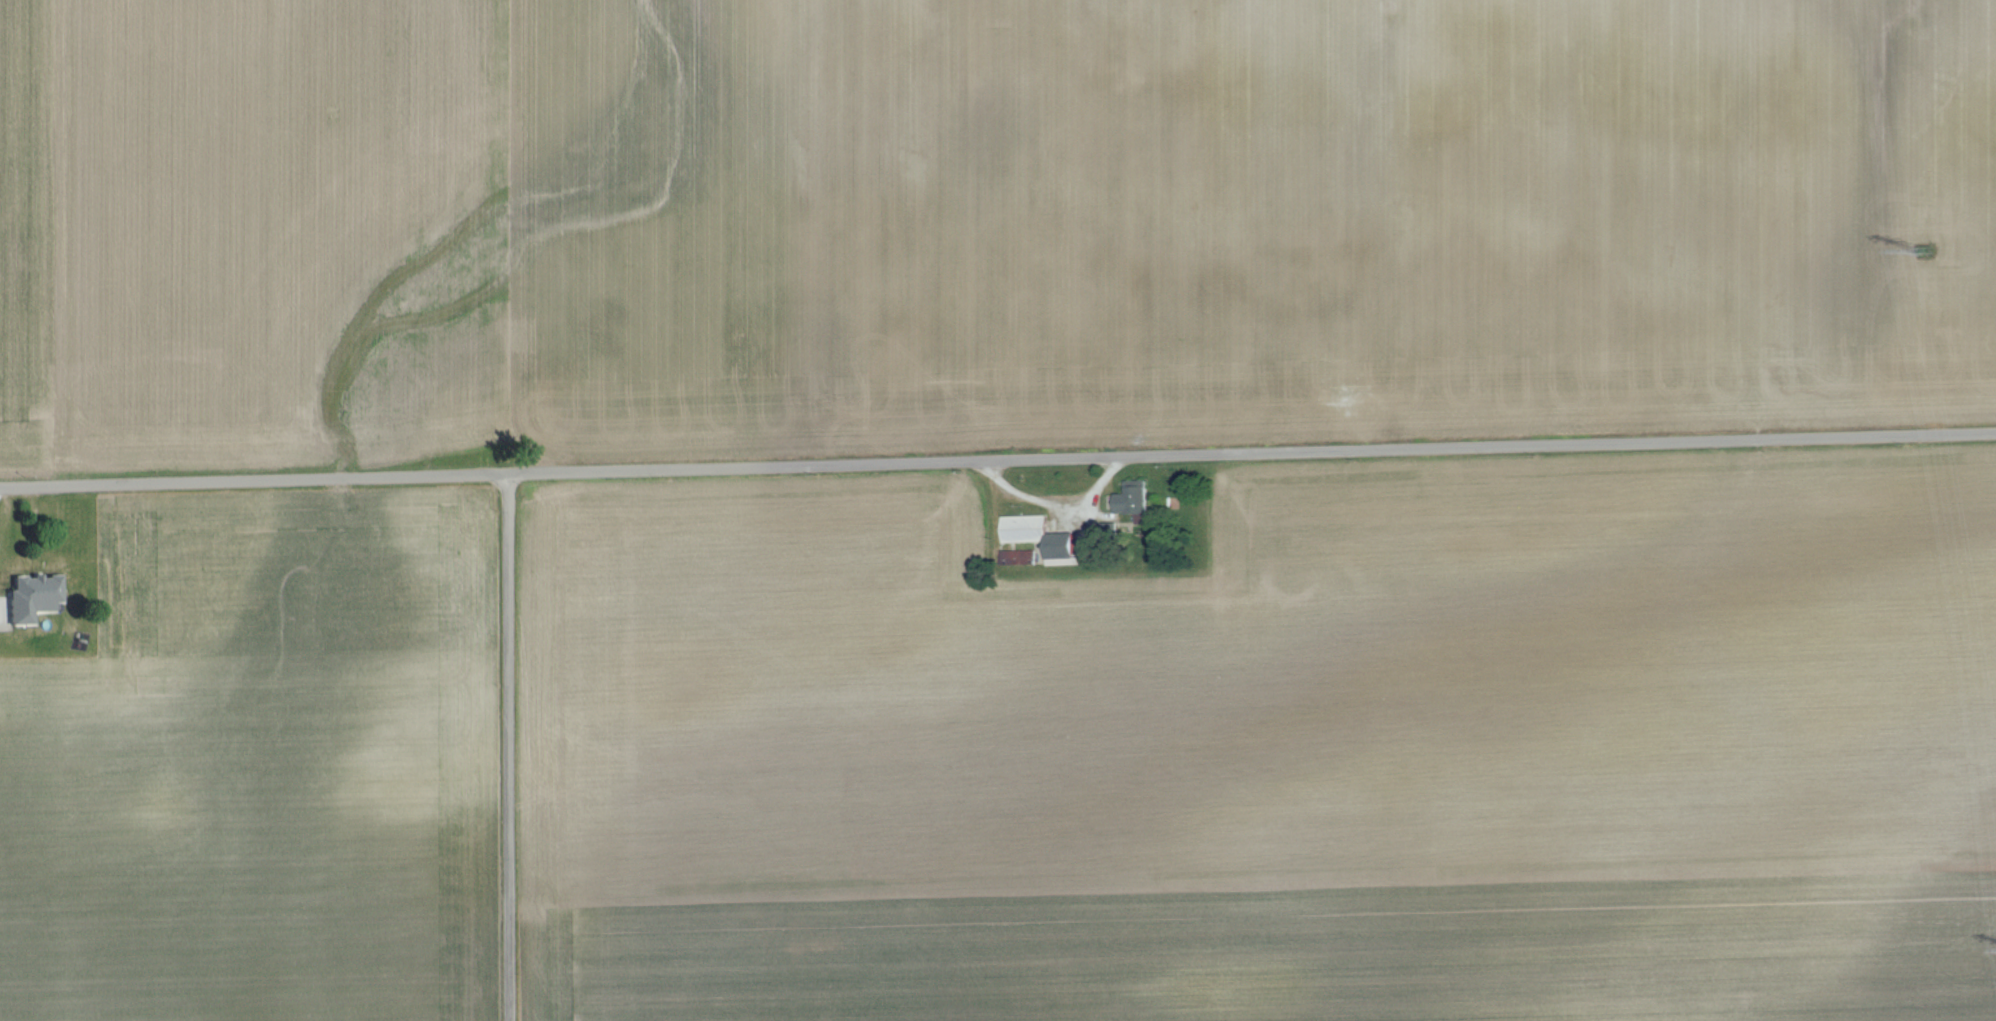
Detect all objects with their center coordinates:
power tower: (1931, 256)
road: (997, 457)
road: (1050, 499)
building: (1026, 528)
building: (33, 597)
road: (507, 747)

